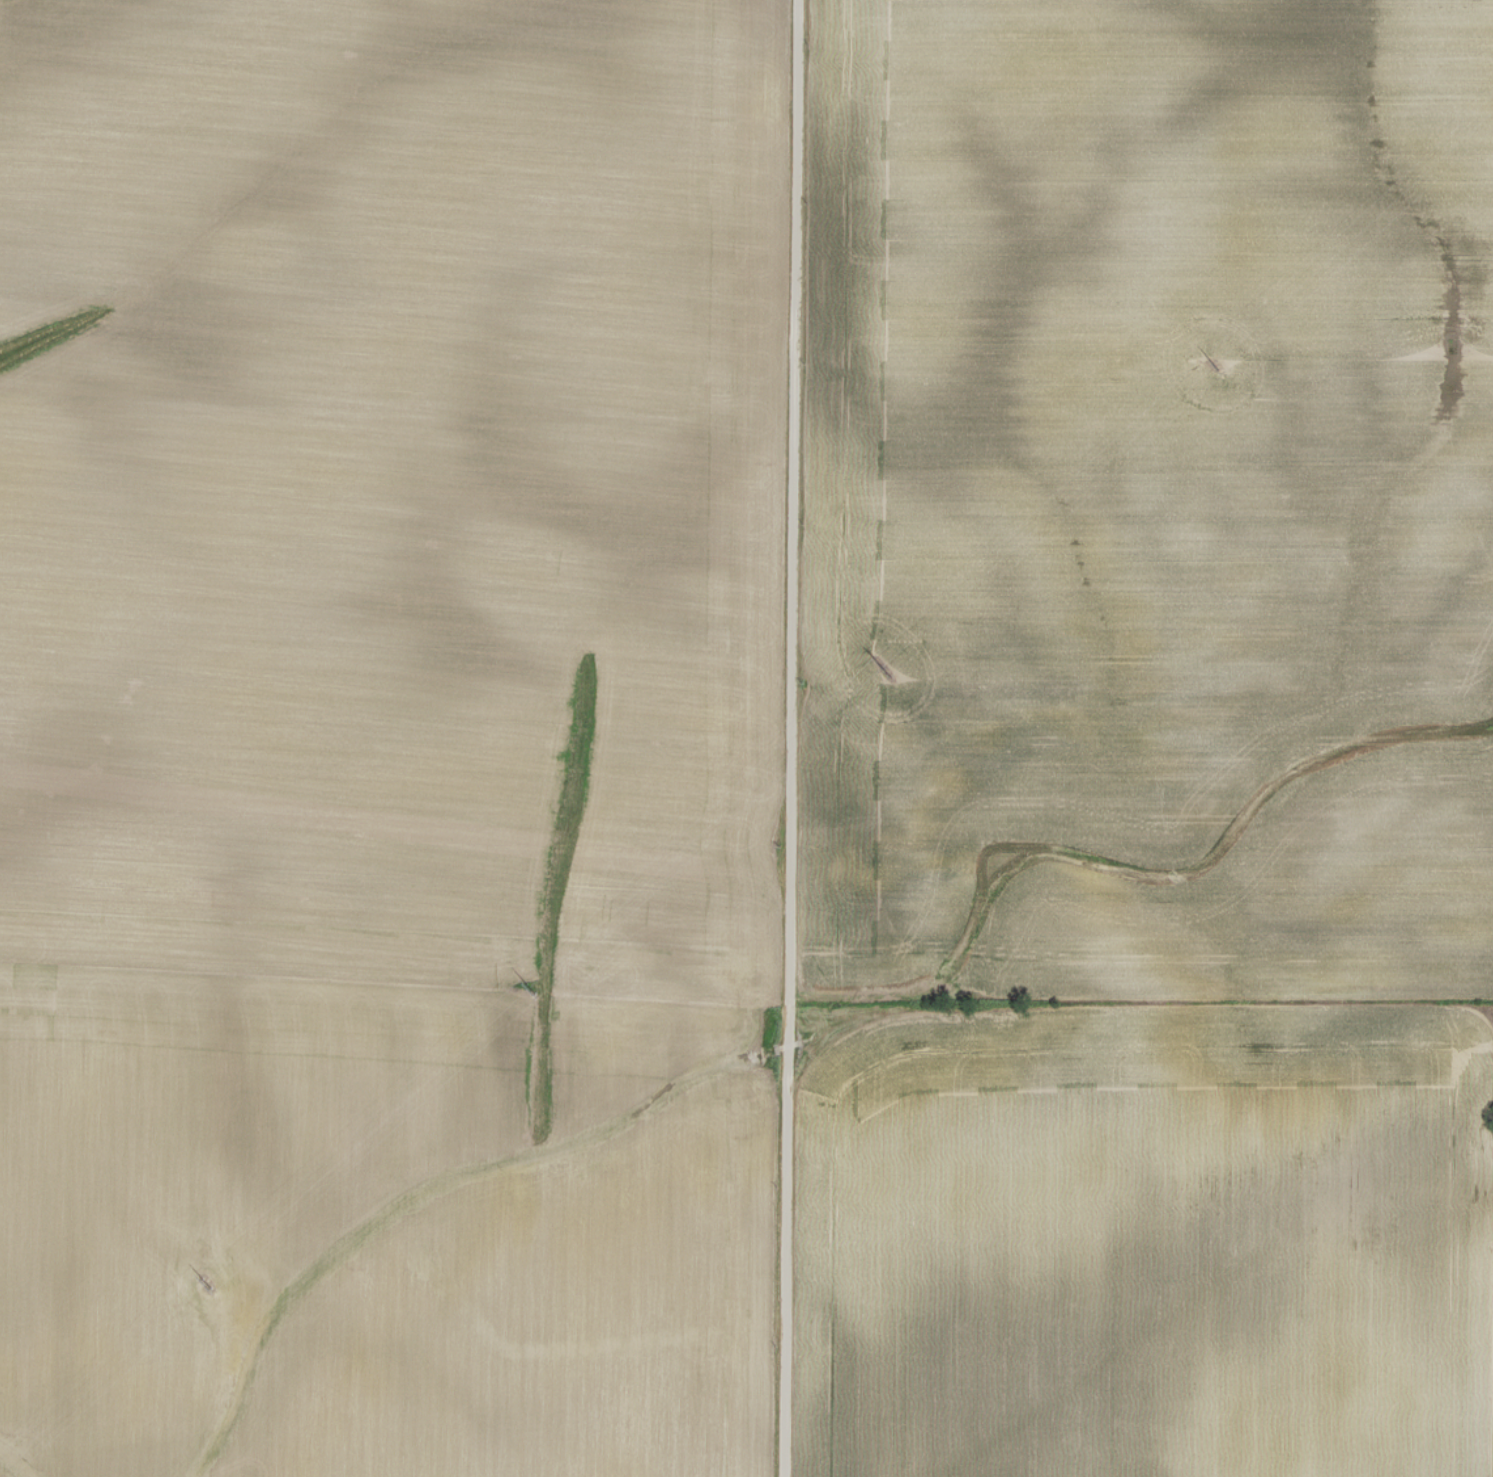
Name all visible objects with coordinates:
power tower: (1215, 365)
power tower: (882, 668)
road: (799, 738)
power tower: (525, 991)
power tower: (203, 1287)

